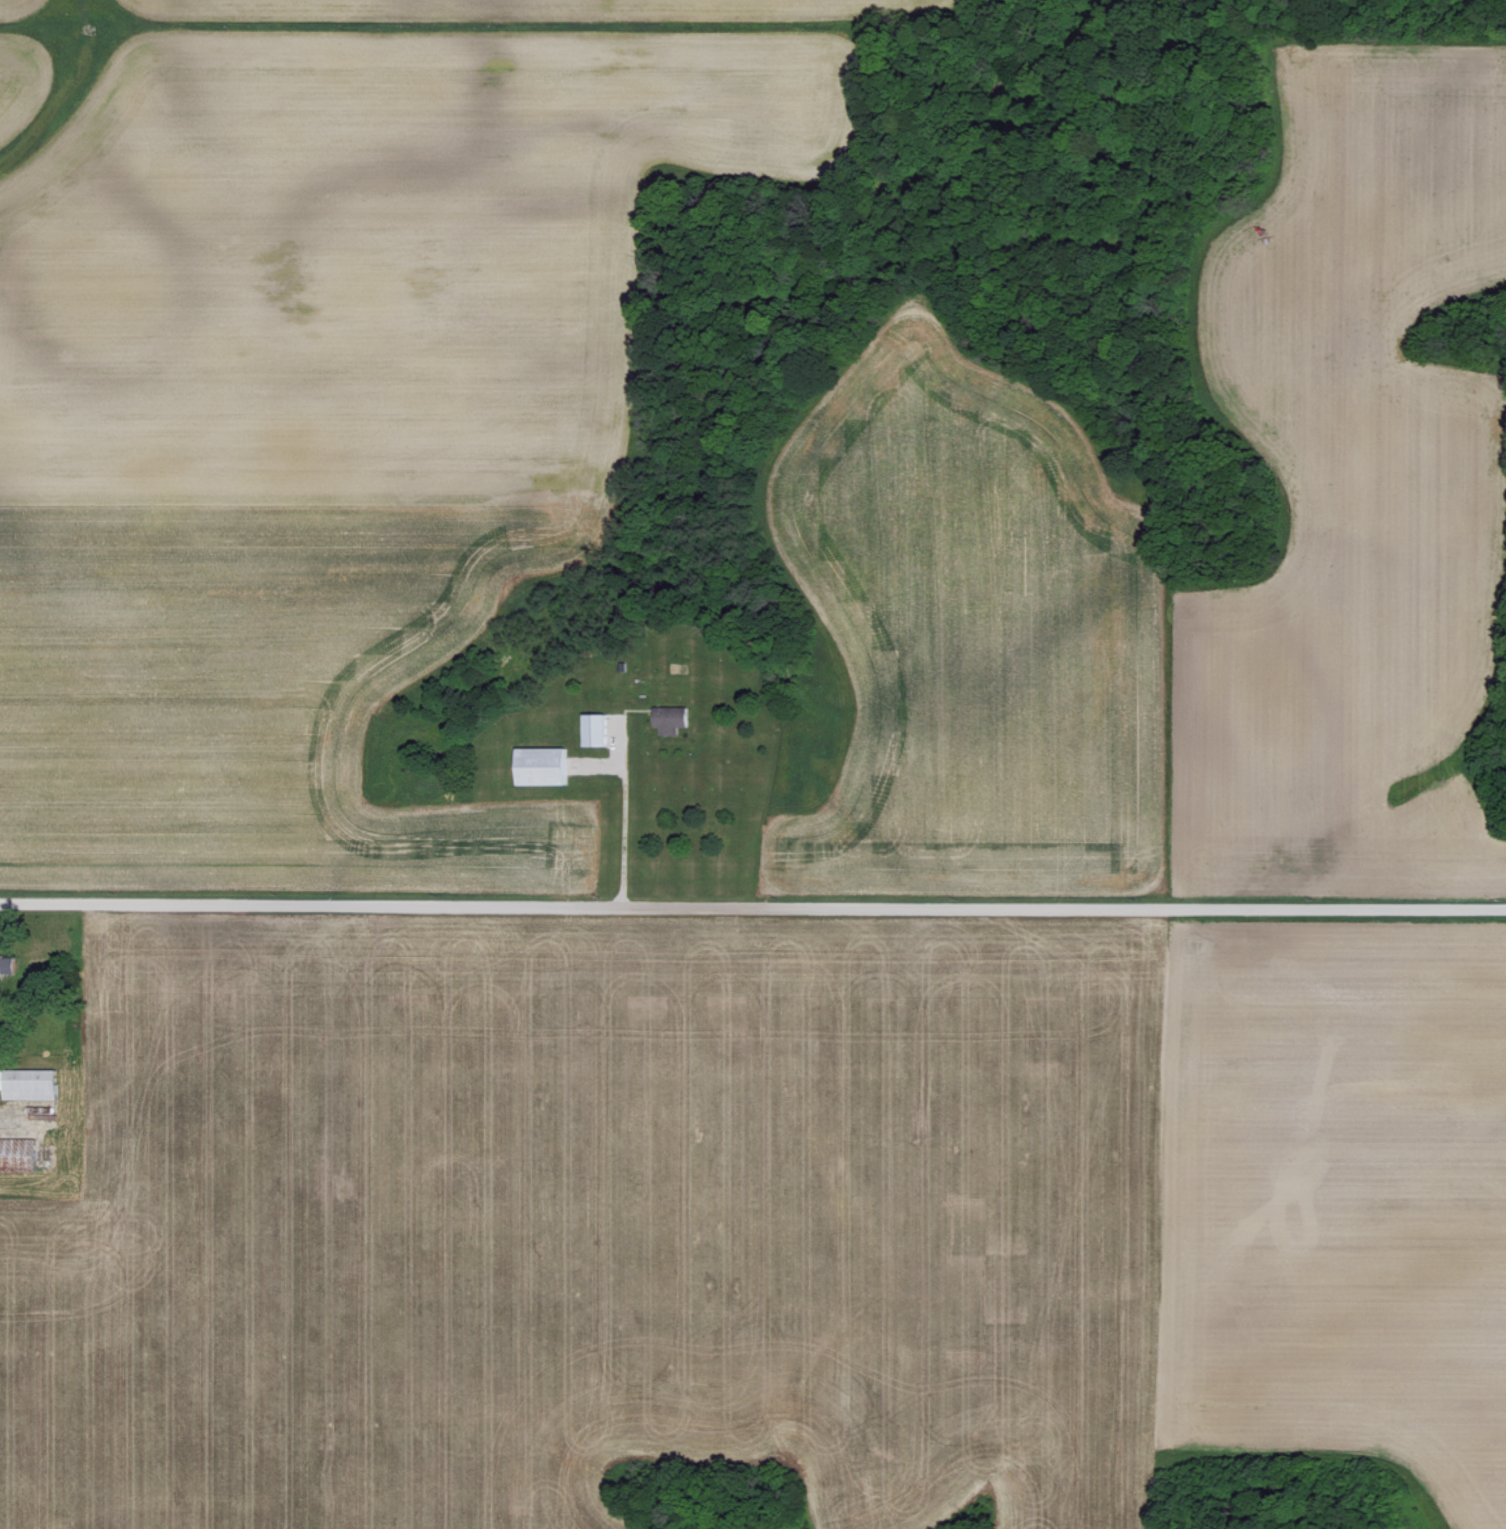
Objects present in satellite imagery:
building: (670, 718)
building: (595, 728)
building: (542, 765)
road: (610, 820)
road: (753, 905)
building: (6, 964)
building: (28, 1083)
building: (17, 1154)

